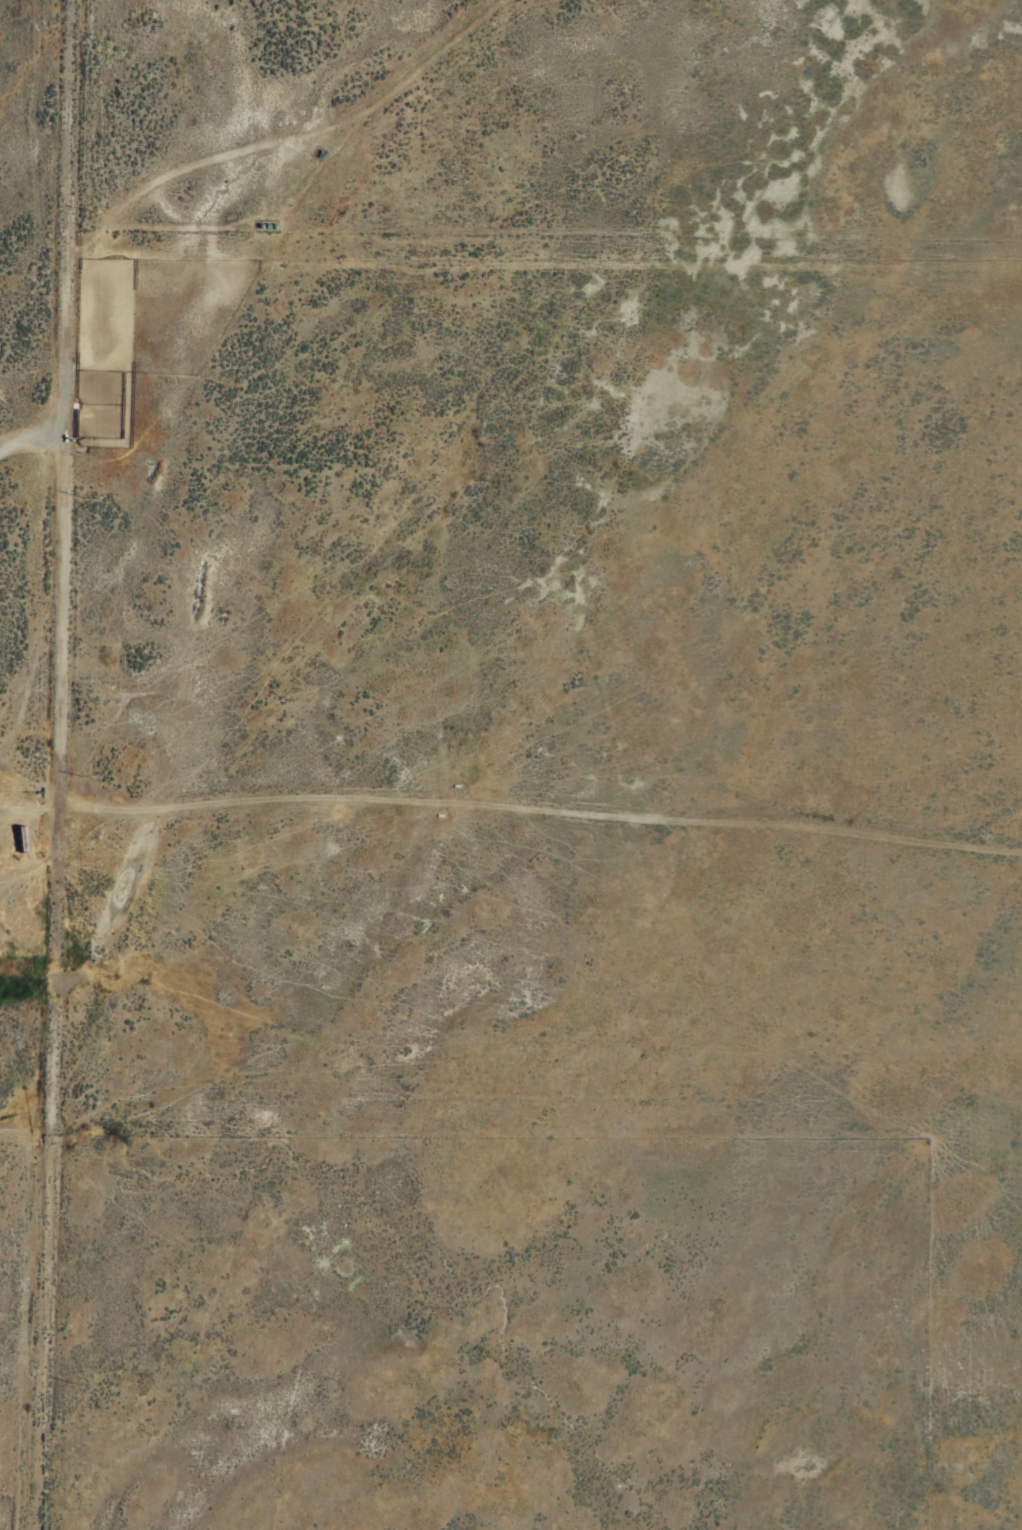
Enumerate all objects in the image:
road: (28, 433)
crop: (523, 607)
road: (537, 842)
road: (47, 988)

